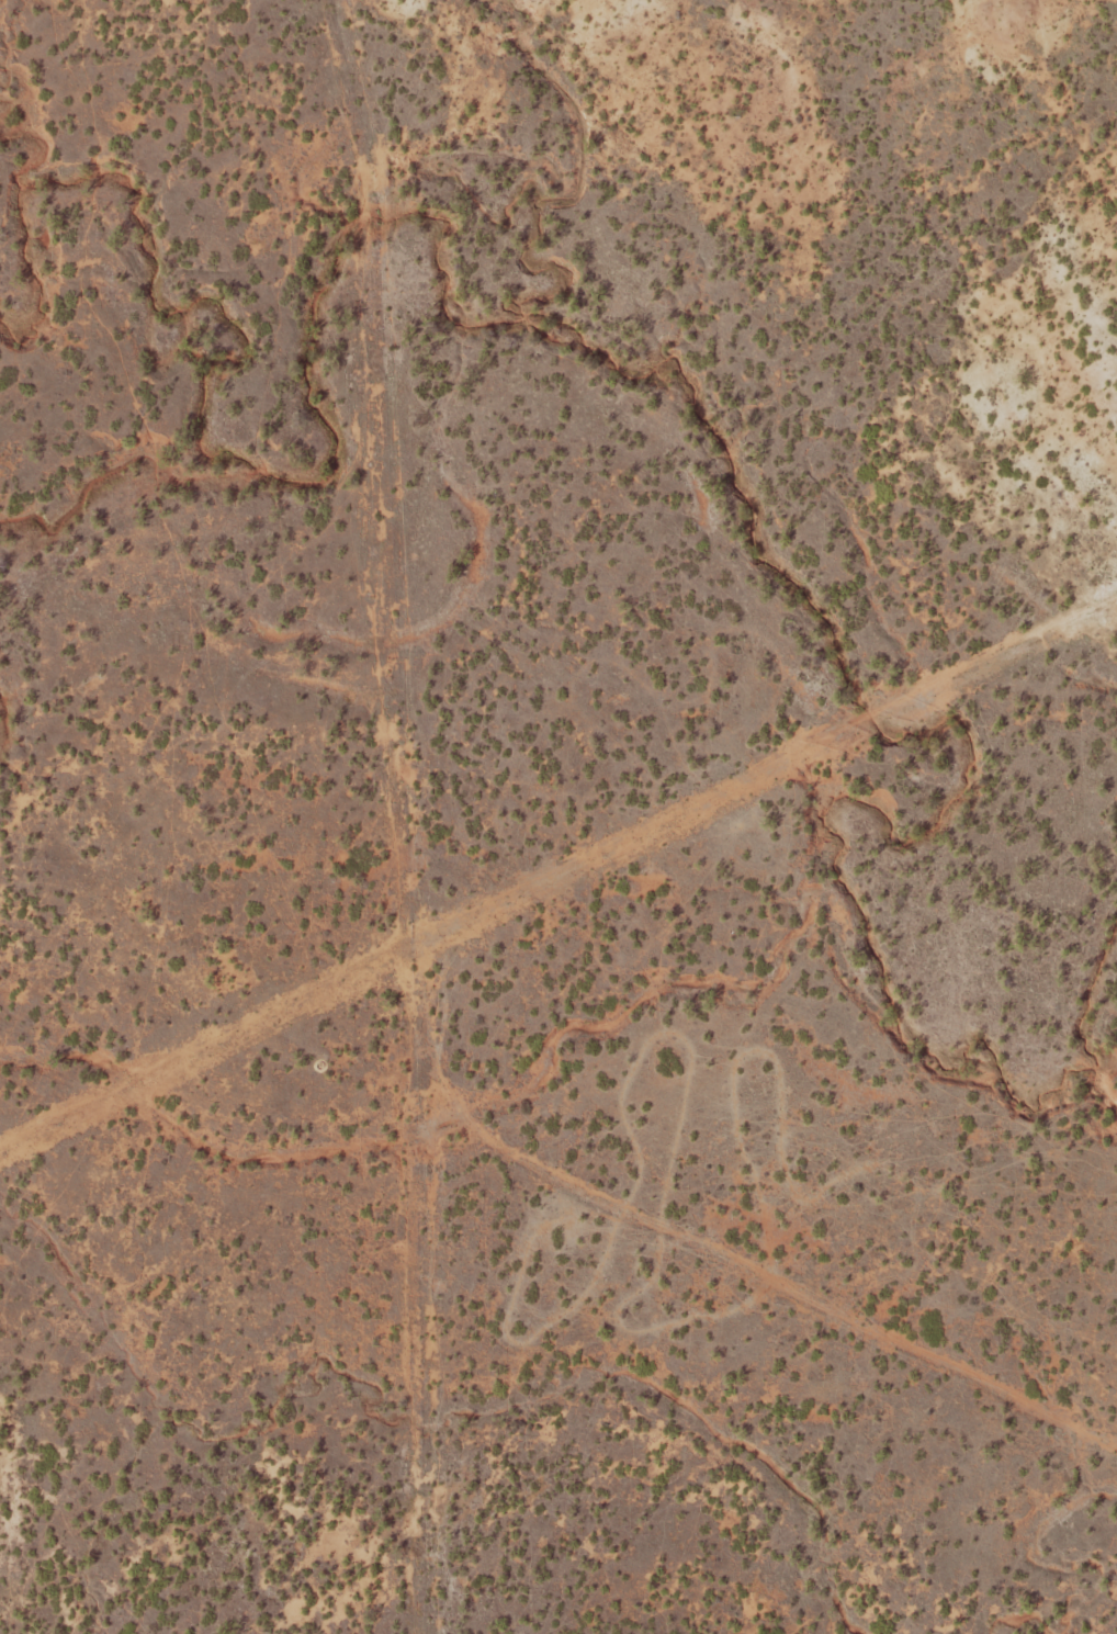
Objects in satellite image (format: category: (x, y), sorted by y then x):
road: (608, 832)
road: (573, 1171)

